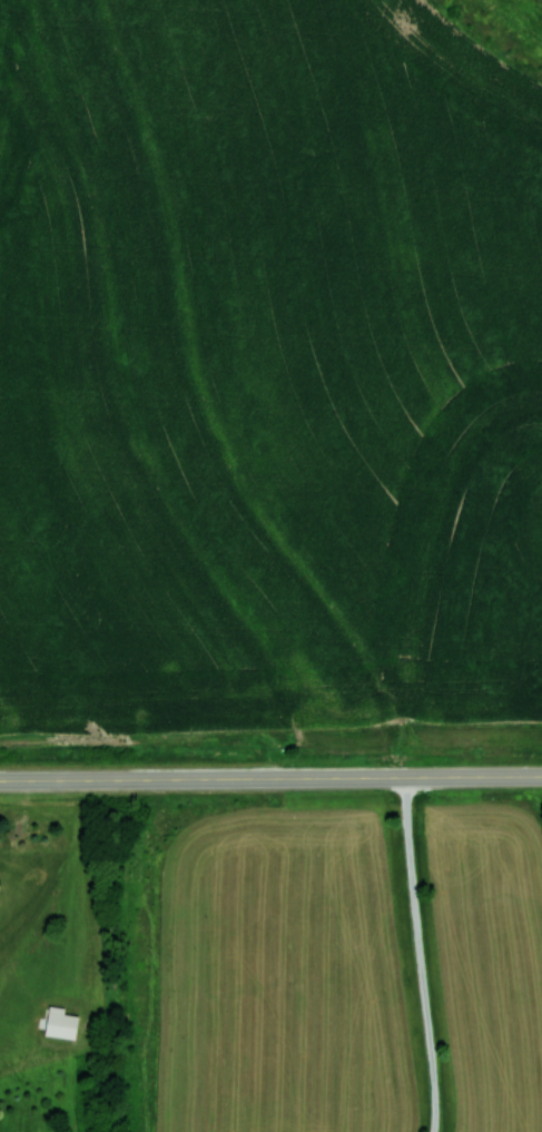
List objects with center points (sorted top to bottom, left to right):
road: (270, 778)
building: (59, 1023)

